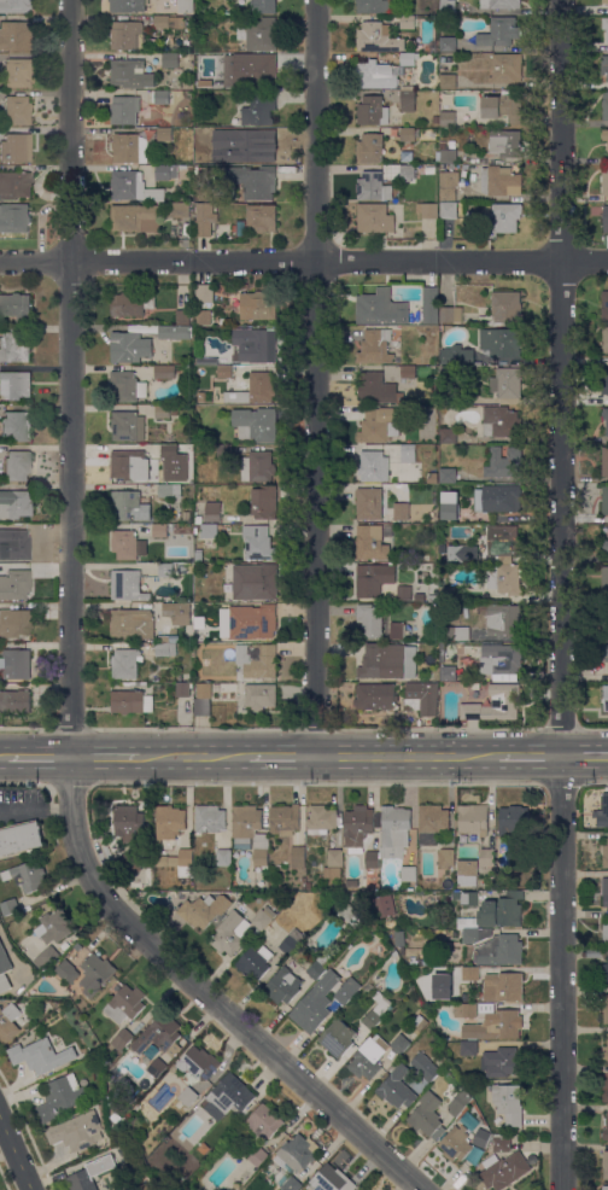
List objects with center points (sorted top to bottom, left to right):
building: (604, 1)
building: (499, 4)
building: (128, 5)
building: (14, 6)
building: (262, 6)
building: (373, 6)
building: (448, 6)
building: (186, 7)
building: (168, 22)
building: (407, 22)
building: (604, 27)
building: (499, 31)
building: (259, 34)
building: (13, 35)
building: (127, 35)
building: (185, 36)
building: (378, 37)
building: (448, 43)
building: (408, 58)
building: (170, 59)
building: (604, 65)
building: (207, 66)
building: (507, 68)
building: (250, 70)
building: (17, 72)
building: (129, 74)
building: (378, 74)
building: (448, 81)
building: (204, 84)
building: (162, 97)
building: (407, 98)
building: (604, 105)
building: (504, 106)
building: (258, 107)
building: (16, 110)
building: (124, 110)
building: (372, 110)
building: (446, 118)
building: (435, 119)
building: (166, 133)
building: (210, 133)
building: (224, 133)
building: (408, 134)
building: (604, 136)
building: (505, 142)
building: (451, 144)
building: (442, 145)
building: (14, 147)
building: (369, 147)
building: (129, 148)
building: (255, 148)
building: (279, 148)
building: (407, 156)
building: (448, 156)
building: (189, 169)
building: (429, 169)
building: (165, 171)
building: (407, 171)
building: (250, 180)
building: (604, 180)
building: (501, 181)
building: (14, 185)
building: (448, 185)
building: (373, 186)
building: (133, 187)
building: (448, 209)
building: (180, 210)
building: (427, 210)
building: (13, 217)
building: (135, 217)
building: (261, 217)
building: (374, 217)
building: (504, 217)
road: (39, 218)
building: (606, 218)
building: (204, 220)
road: (304, 264)
building: (204, 293)
building: (130, 303)
building: (431, 304)
building: (604, 304)
building: (16, 305)
building: (257, 305)
building: (380, 308)
building: (503, 308)
building: (450, 314)
building: (182, 316)
building: (203, 316)
building: (174, 332)
building: (606, 339)
building: (499, 340)
building: (255, 344)
building: (14, 346)
building: (129, 346)
building: (375, 346)
building: (457, 355)
building: (223, 369)
building: (210, 371)
building: (164, 372)
building: (409, 372)
building: (446, 373)
road: (322, 379)
building: (434, 380)
building: (606, 381)
building: (507, 383)
building: (16, 384)
building: (129, 385)
building: (255, 389)
building: (378, 389)
building: (448, 393)
building: (200, 396)
building: (165, 410)
building: (443, 415)
building: (606, 419)
building: (501, 421)
building: (378, 422)
building: (256, 424)
building: (17, 425)
building: (127, 426)
building: (448, 434)
building: (171, 450)
building: (226, 450)
building: (408, 454)
building: (604, 461)
building: (504, 462)
building: (127, 463)
building: (17, 465)
building: (257, 466)
building: (373, 466)
building: (448, 474)
building: (432, 477)
building: (169, 490)
building: (501, 497)
building: (585, 497)
building: (604, 500)
building: (263, 502)
building: (368, 502)
building: (14, 503)
building: (124, 503)
building: (401, 511)
building: (449, 511)
building: (212, 512)
building: (434, 513)
building: (198, 519)
building: (139, 529)
building: (162, 530)
building: (209, 530)
building: (501, 539)
building: (257, 542)
building: (370, 543)
building: (17, 544)
building: (127, 544)
building: (604, 546)
building: (455, 553)
building: (198, 555)
building: (423, 558)
building: (165, 568)
building: (182, 568)
building: (504, 578)
building: (604, 578)
building: (373, 579)
building: (253, 582)
building: (17, 583)
building: (127, 585)
building: (404, 593)
building: (448, 593)
road: (565, 594)
building: (433, 597)
building: (177, 613)
building: (370, 619)
building: (504, 619)
building: (606, 619)
building: (252, 620)
building: (14, 622)
building: (133, 623)
building: (396, 629)
building: (454, 632)
building: (165, 646)
building: (458, 649)
building: (606, 649)
building: (257, 659)
building: (501, 659)
building: (125, 661)
building: (387, 661)
building: (16, 663)
building: (450, 667)
road: (69, 670)
building: (183, 688)
building: (214, 688)
building: (261, 695)
building: (374, 695)
building: (421, 696)
building: (606, 698)
building: (14, 700)
building: (127, 701)
building: (495, 704)
road: (2, 758)
road: (36, 758)
road: (104, 758)
road: (194, 758)
road: (283, 758)
road: (409, 758)
road: (531, 758)
road: (586, 758)
road: (35, 811)
building: (603, 812)
building: (209, 818)
building: (473, 818)
building: (283, 819)
building: (321, 819)
building: (169, 821)
building: (129, 822)
building: (431, 823)
building: (514, 827)
building: (357, 828)
building: (251, 830)
building: (394, 830)
building: (19, 836)
building: (606, 854)
building: (486, 856)
building: (223, 857)
building: (298, 857)
building: (334, 857)
building: (445, 857)
building: (372, 859)
building: (129, 862)
building: (177, 862)
building: (408, 873)
building: (467, 873)
building: (25, 875)
building: (352, 882)
building: (604, 891)
building: (455, 896)
building: (469, 898)
building: (384, 904)
building: (8, 906)
building: (200, 908)
building: (502, 910)
building: (349, 912)
building: (263, 917)
building: (467, 922)
building: (53, 926)
building: (374, 926)
building: (230, 933)
building: (604, 933)
building: (474, 934)
building: (399, 937)
building: (291, 941)
building: (499, 950)
building: (46, 957)
building: (305, 961)
building: (255, 962)
building: (318, 966)
building: (4, 969)
building: (604, 970)
building: (66, 972)
building: (95, 973)
building: (470, 973)
building: (285, 982)
building: (502, 986)
building: (347, 991)
building: (125, 1003)
building: (315, 1003)
building: (604, 1008)
building: (376, 1010)
building: (490, 1020)
building: (7, 1022)
building: (421, 1023)
building: (159, 1034)
building: (337, 1038)
building: (122, 1039)
building: (468, 1048)
building: (151, 1051)
building: (606, 1051)
building: (374, 1054)
building: (40, 1055)
building: (501, 1061)
building: (423, 1067)
building: (195, 1071)
building: (153, 1072)
building: (397, 1087)
building: (604, 1089)
building: (229, 1096)
building: (60, 1097)
building: (458, 1102)
building: (508, 1103)
building: (427, 1115)
building: (115, 1119)
building: (263, 1121)
building: (606, 1126)
building: (75, 1131)
building: (481, 1137)
building: (455, 1143)
building: (499, 1144)
road: (13, 1156)
building: (258, 1156)
building: (292, 1157)
building: (604, 1163)
building: (503, 1169)
building: (88, 1174)
building: (331, 1179)
building: (257, 1183)
building: (292, 1184)
building: (604, 1188)
building: (233, 1189)

